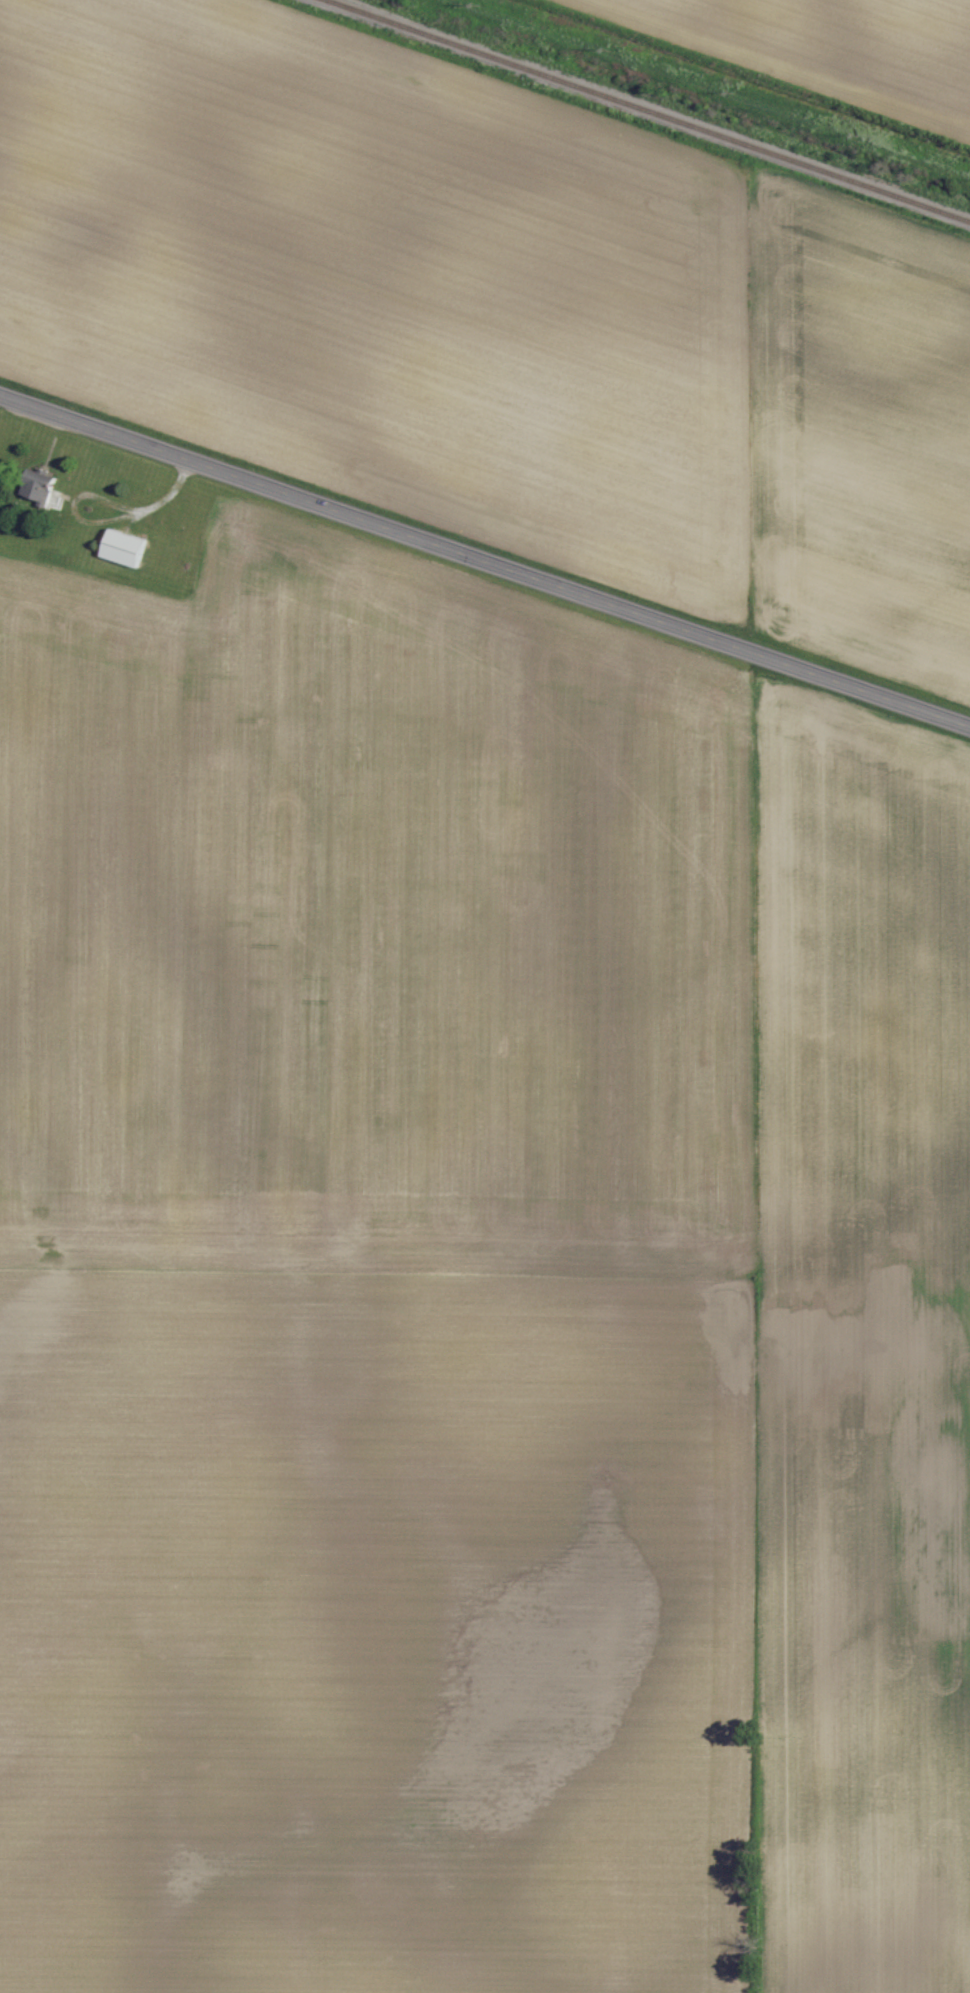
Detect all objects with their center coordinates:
railway: (650, 110)
building: (126, 548)
road: (483, 566)

